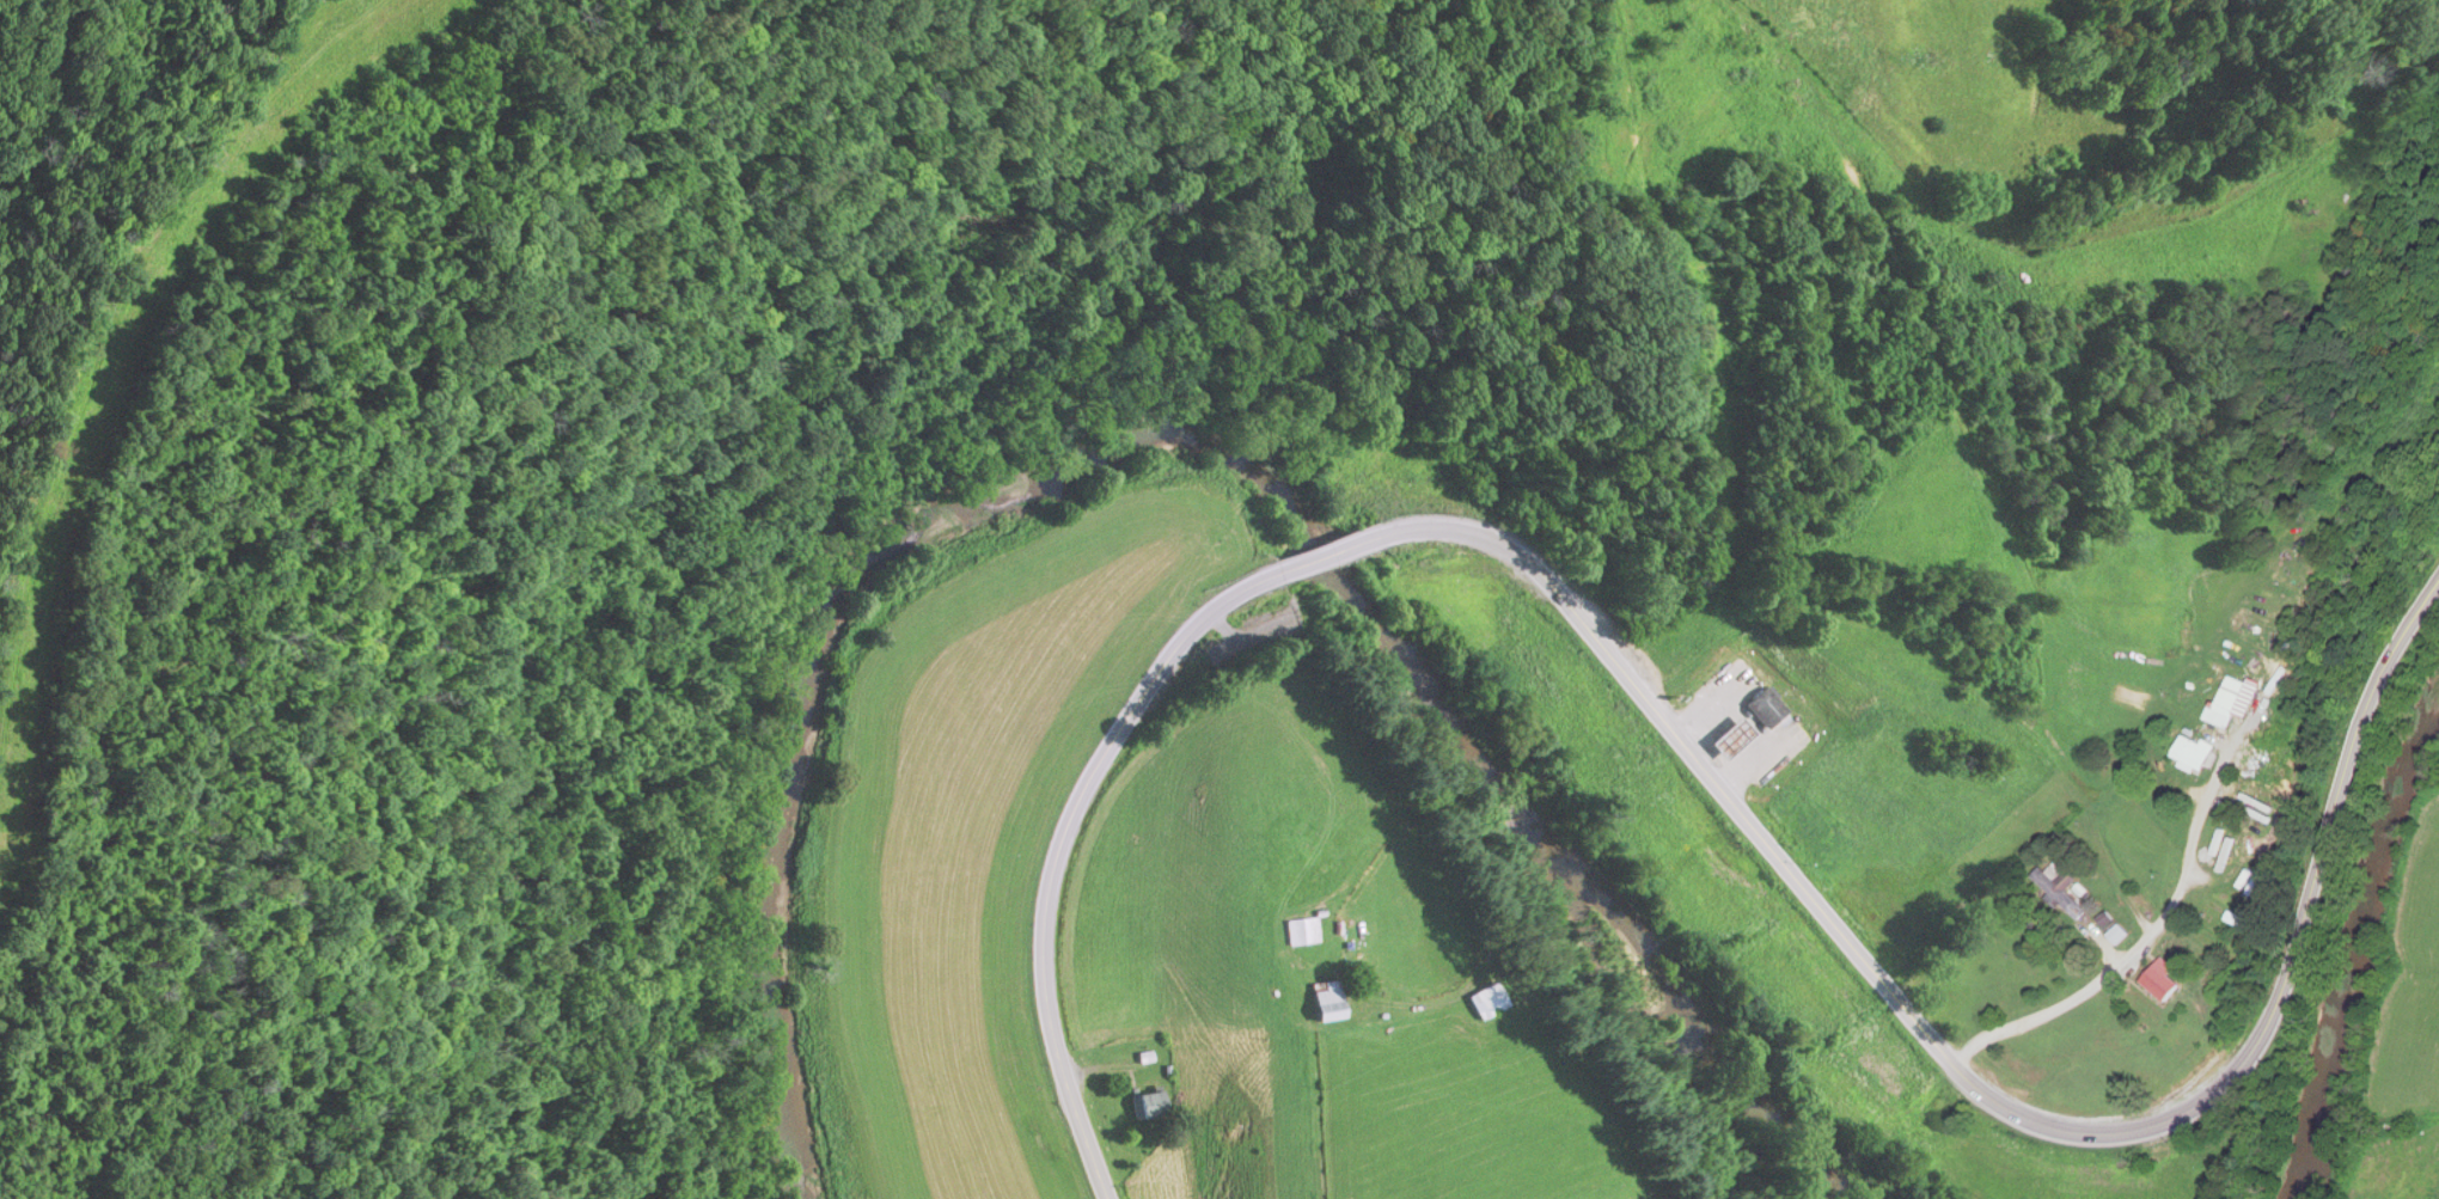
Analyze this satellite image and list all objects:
river: (1190, 439)
road: (1332, 556)
building: (2232, 704)
building: (1767, 709)
building: (2197, 756)
road: (1390, 814)
road: (2093, 831)
road: (1063, 851)
building: (2061, 887)
building: (1303, 932)
building: (2120, 935)
river: (2336, 955)
building: (2166, 981)
building: (1331, 1002)
building: (1492, 1002)
road: (1966, 1079)
building: (1153, 1106)

